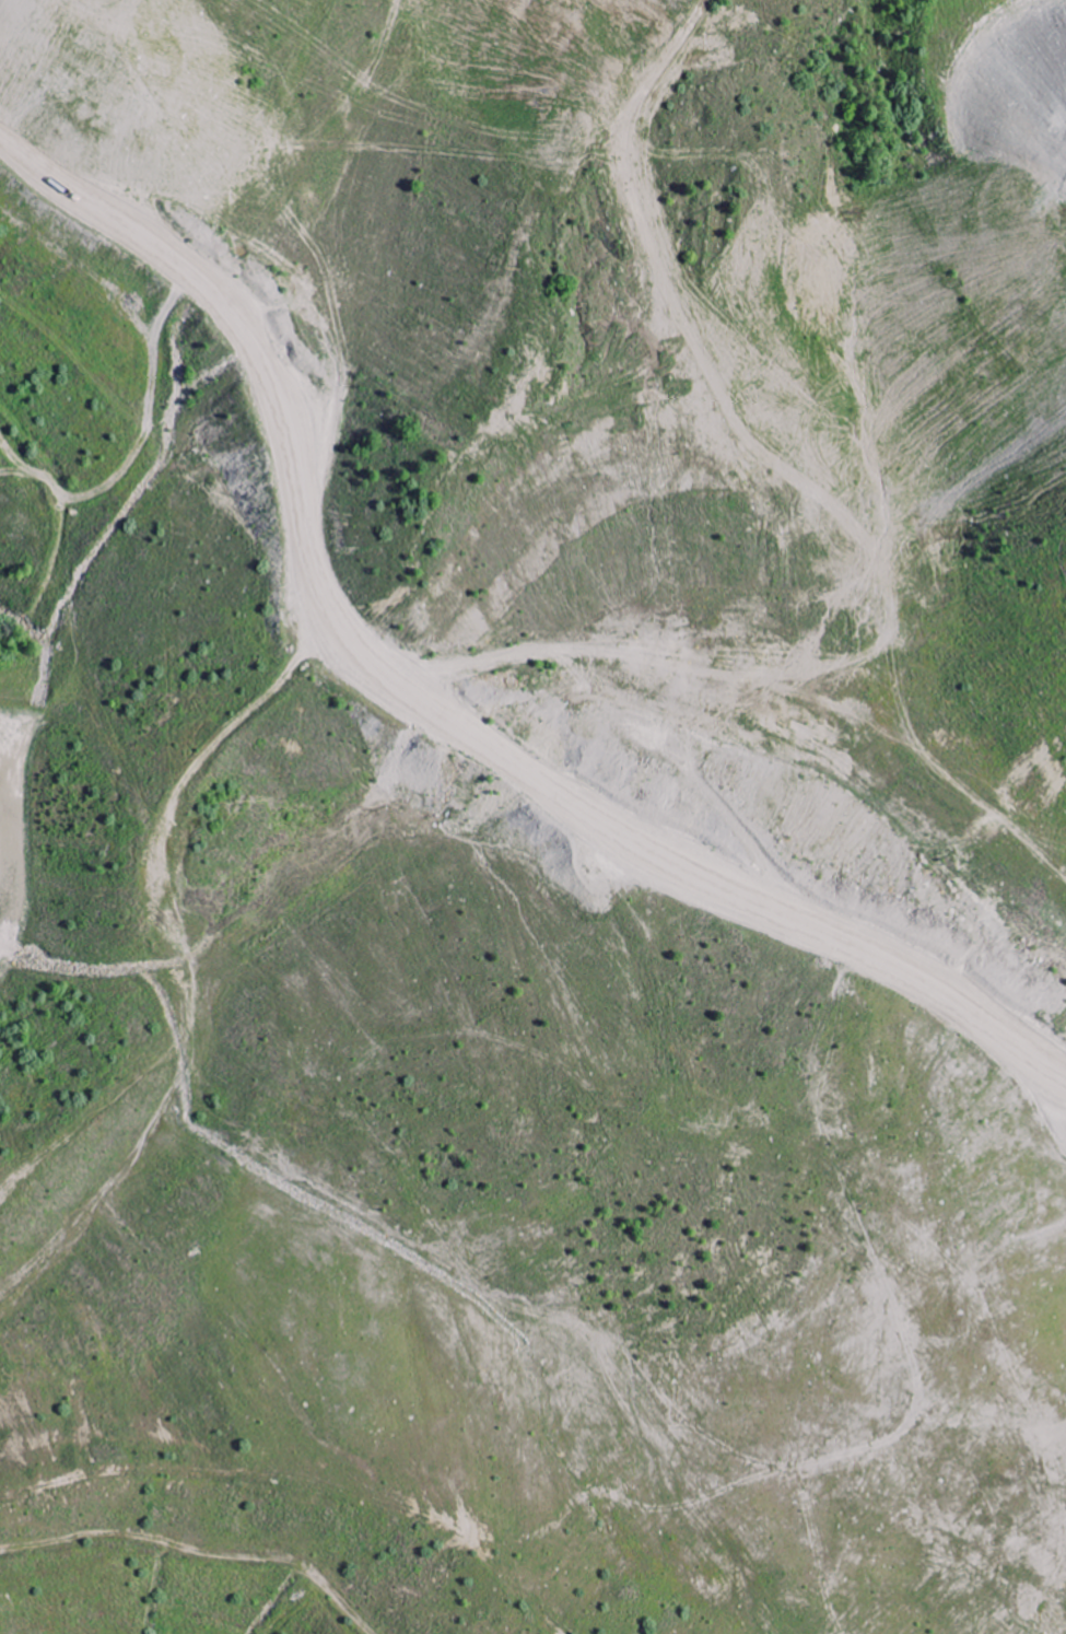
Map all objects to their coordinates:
quarry: (532, 817)

